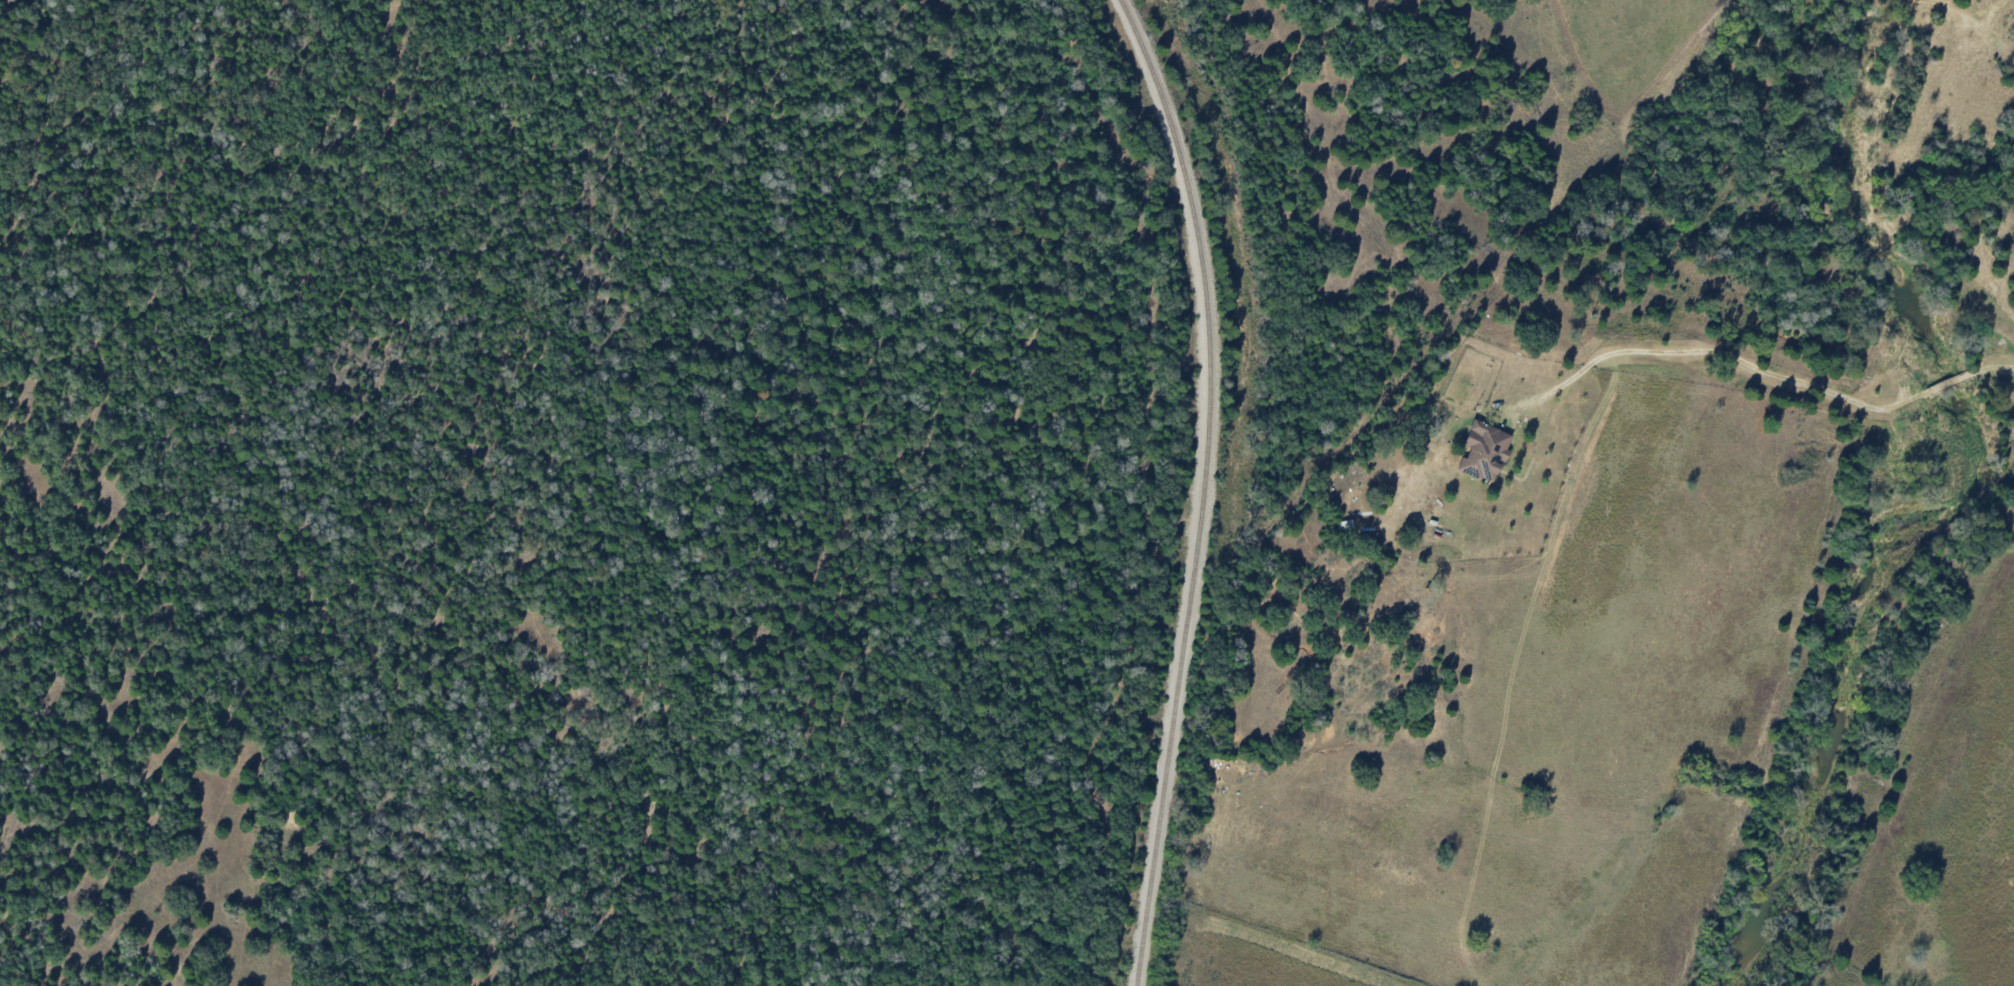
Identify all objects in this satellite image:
road: (1723, 352)
road: (1996, 369)
road: (1953, 381)
building: (1483, 452)
railway: (1205, 488)

